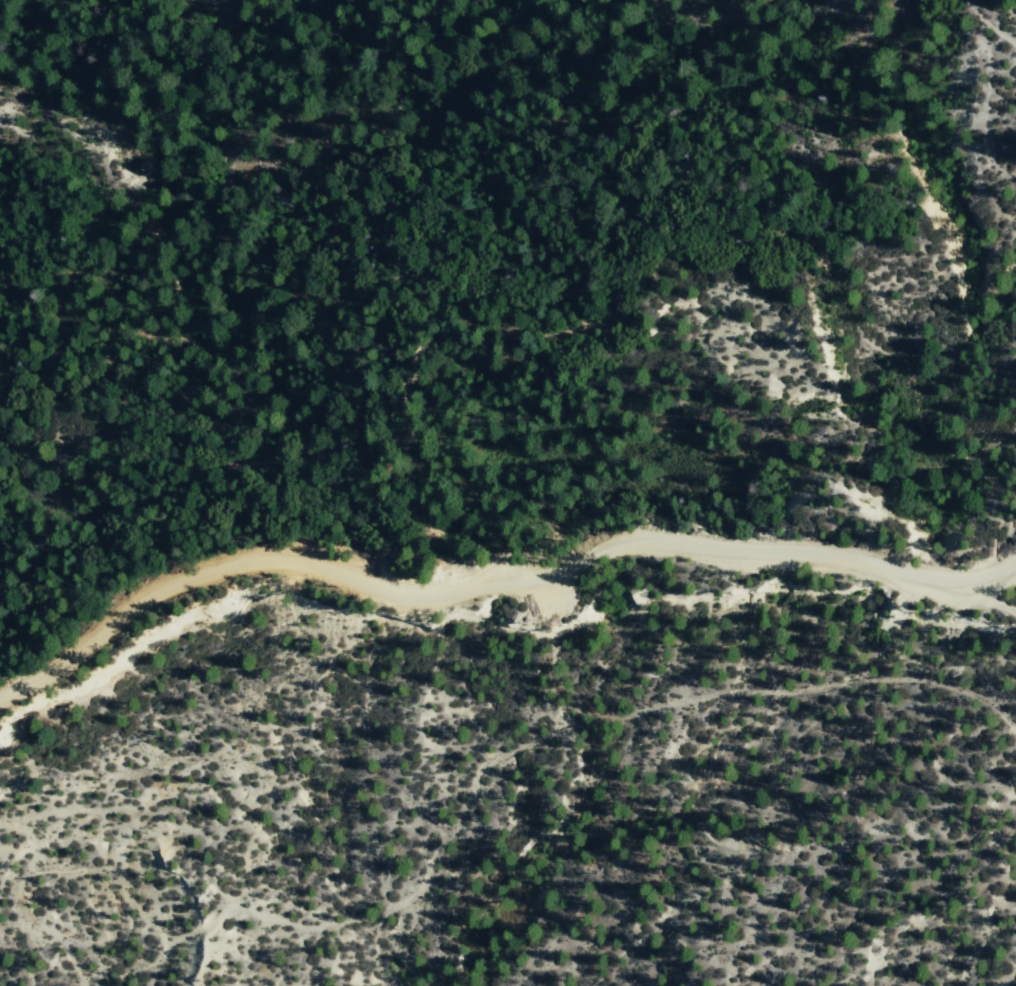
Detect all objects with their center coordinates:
road: (1000, 574)
road: (478, 593)

